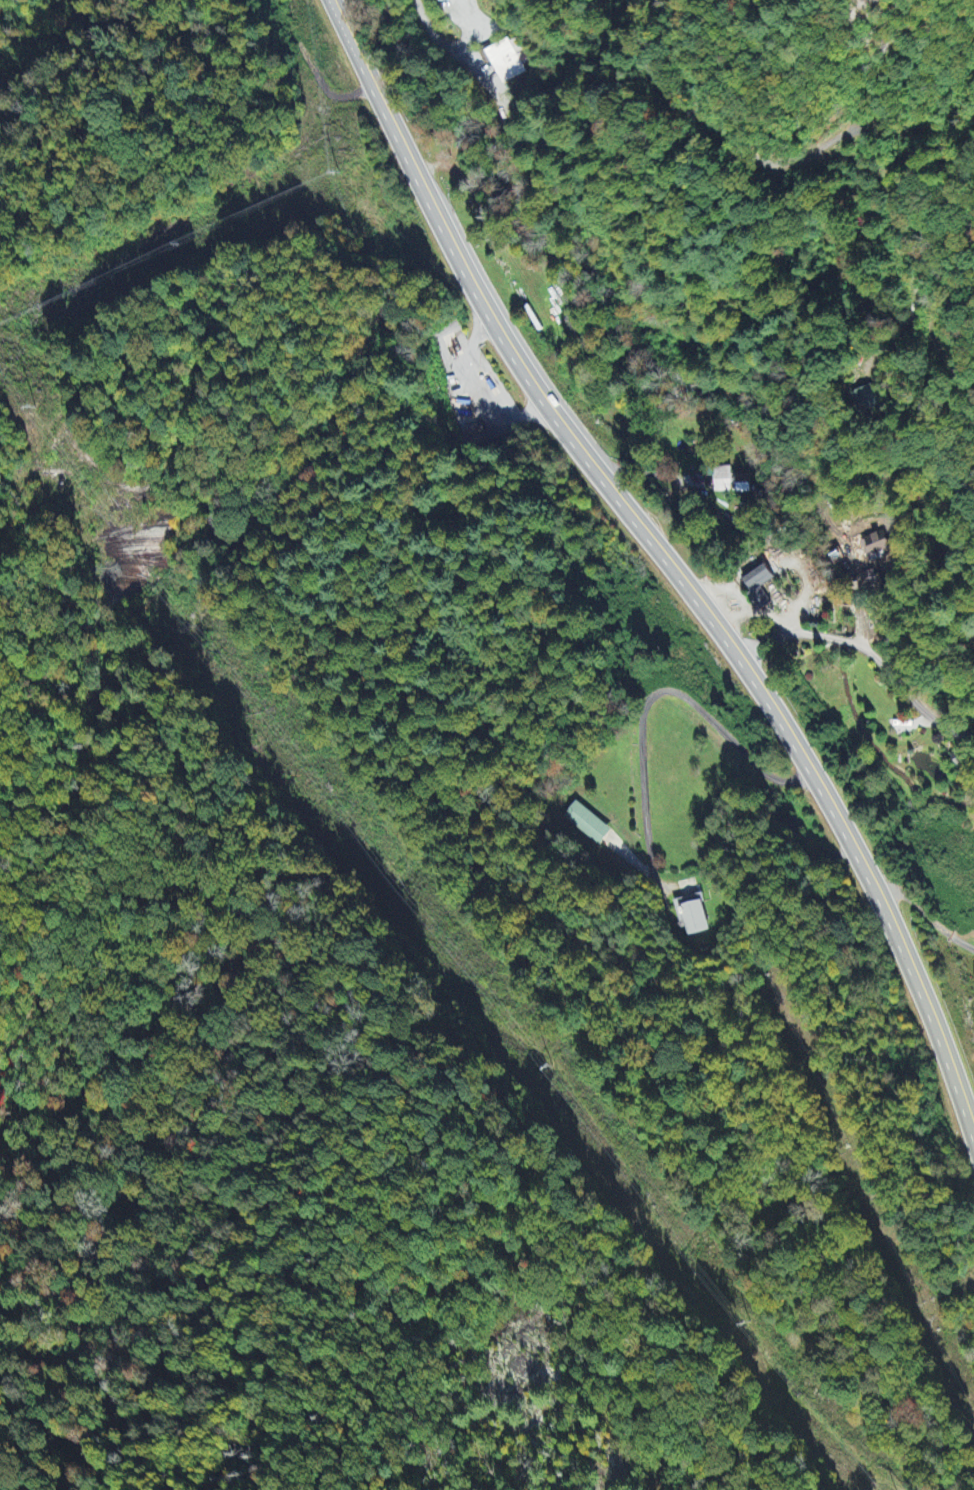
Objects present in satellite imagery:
building: (505, 63)
road: (776, 163)
building: (865, 399)
road: (585, 460)
building: (727, 482)
building: (757, 587)
road: (868, 654)
building: (958, 760)
building: (587, 825)
building: (692, 916)
road: (928, 1020)

